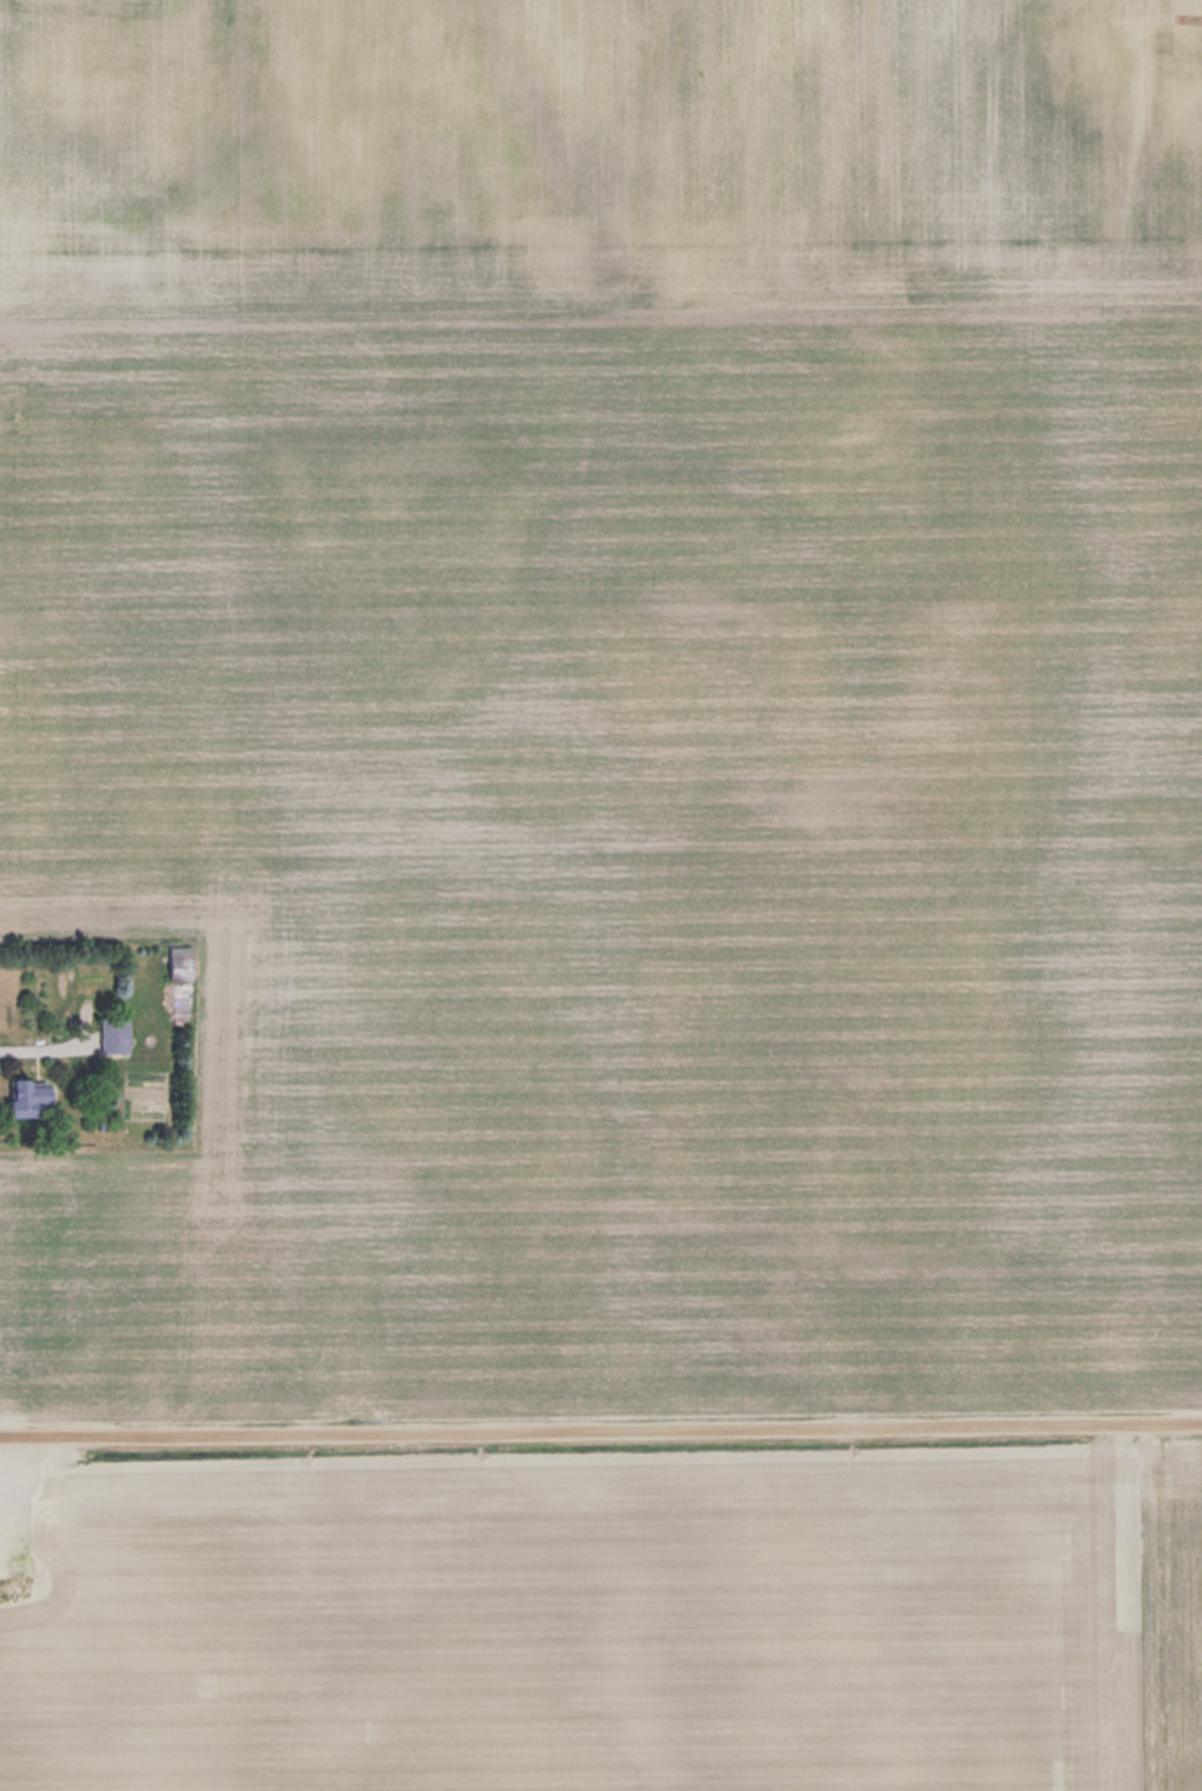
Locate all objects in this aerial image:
building: (183, 961)
building: (116, 1033)
building: (31, 1097)
road: (600, 1435)

